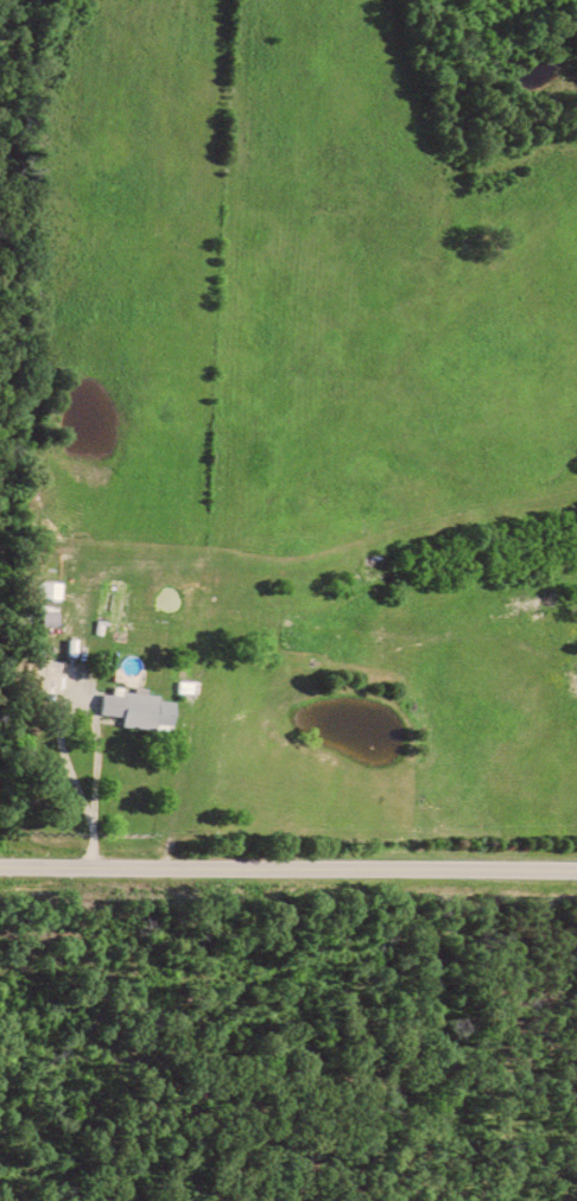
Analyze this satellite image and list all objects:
building: (146, 708)
road: (100, 788)
road: (288, 868)

